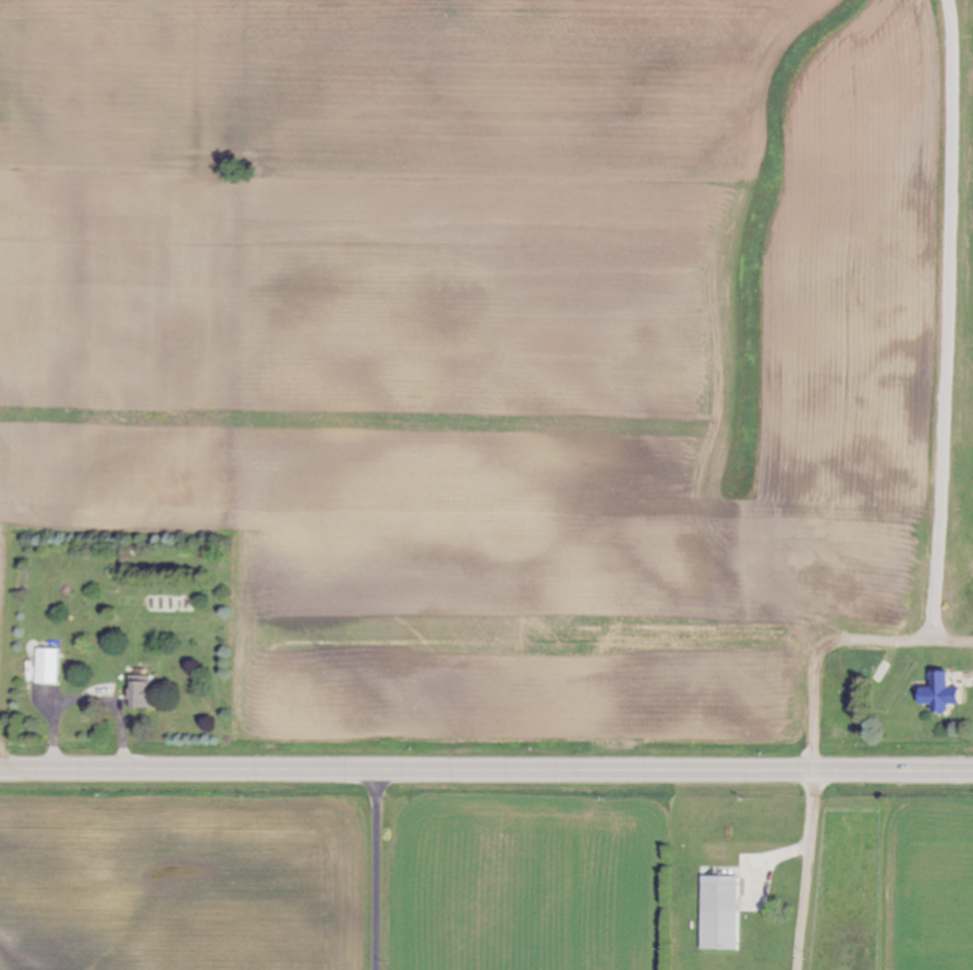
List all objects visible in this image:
road: (834, 637)
building: (51, 668)
building: (146, 694)
building: (948, 696)
road: (85, 700)
road: (486, 767)
road: (378, 868)
road: (809, 869)
building: (725, 914)

